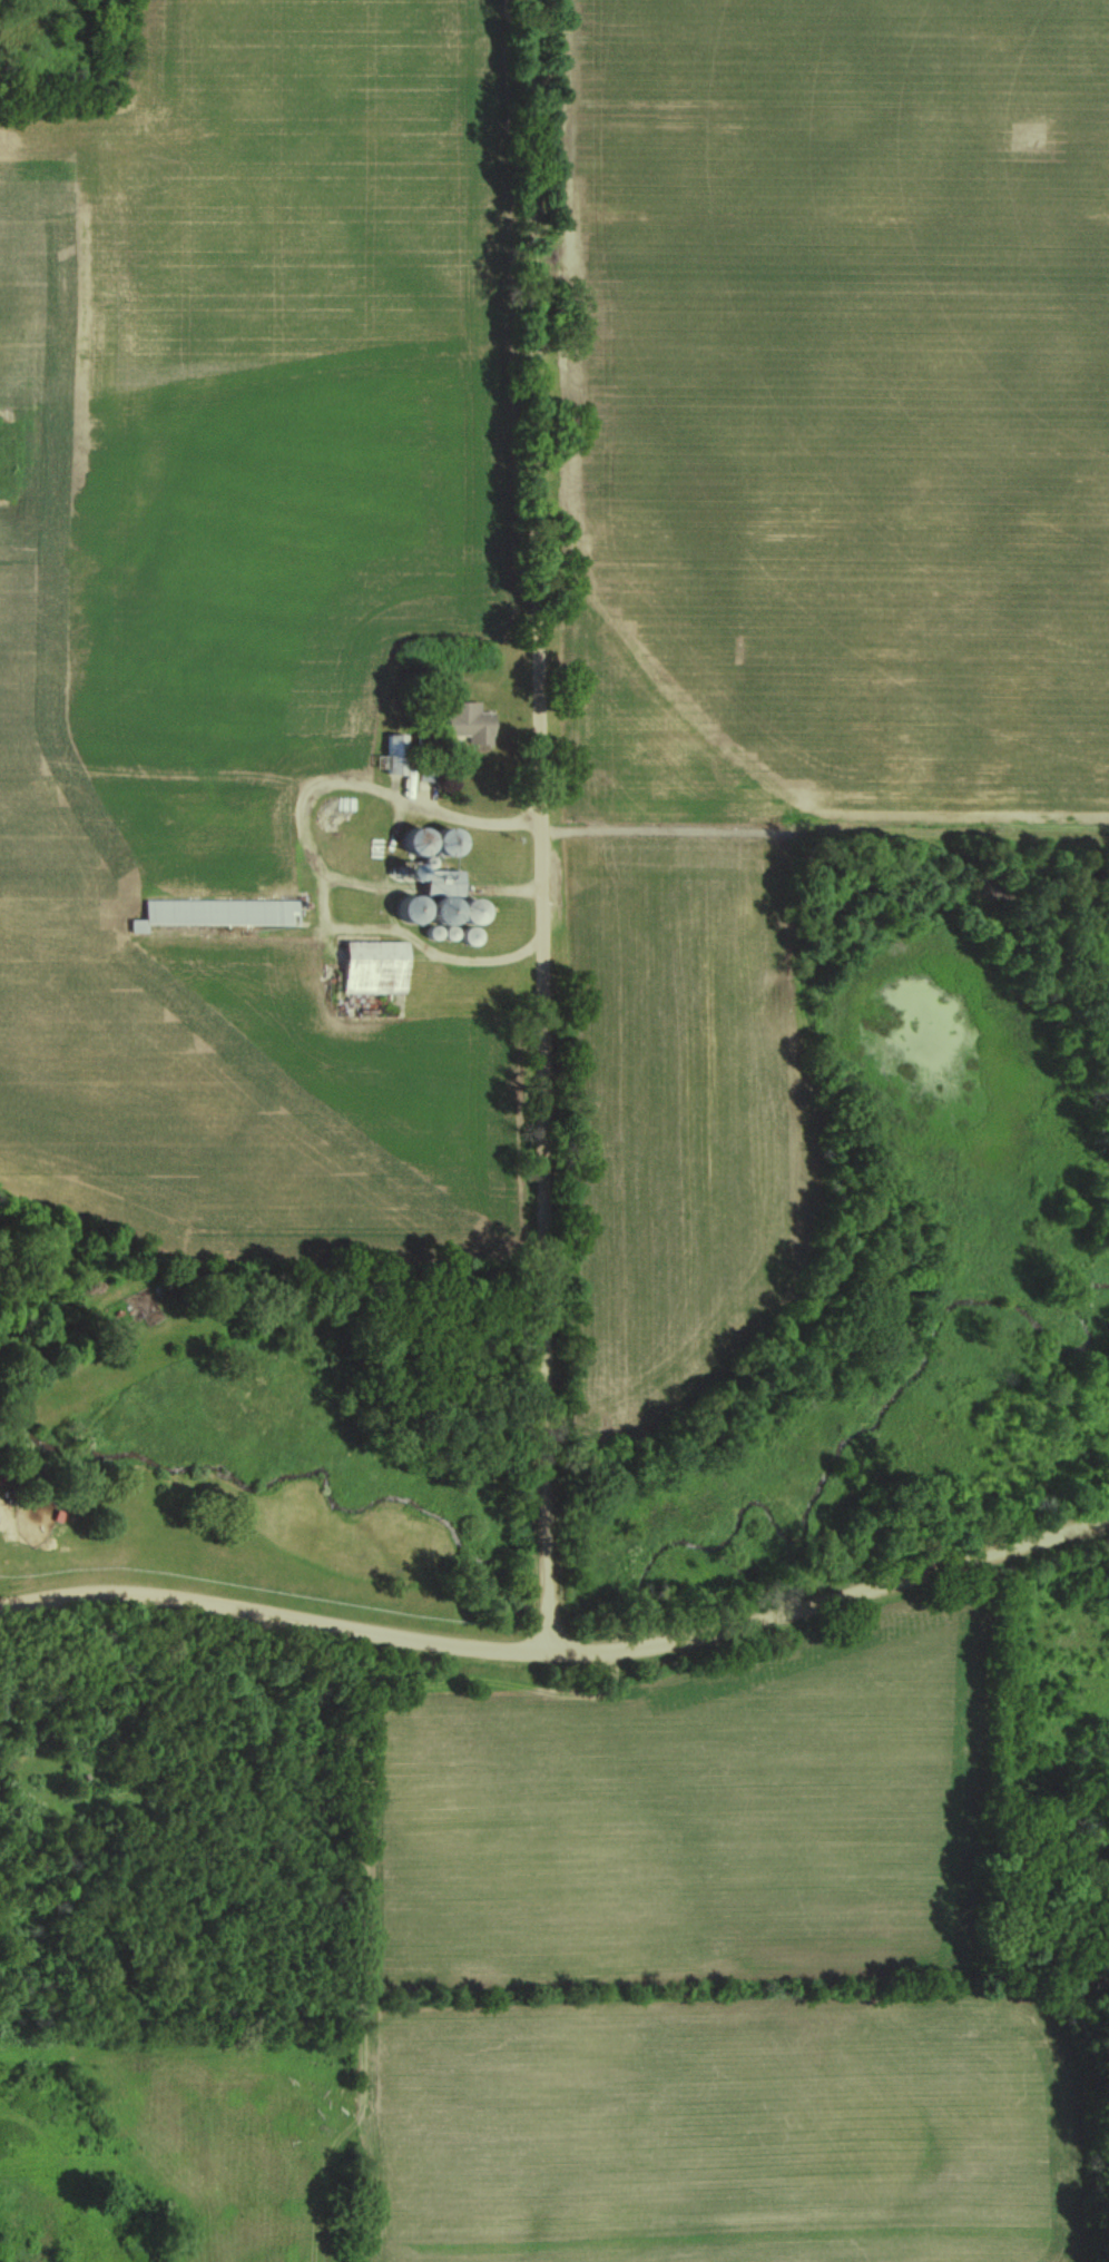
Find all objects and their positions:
building: (462, 724)
building: (391, 754)
road: (540, 825)
building: (436, 840)
road: (305, 856)
road: (380, 866)
road: (346, 883)
road: (507, 891)
building: (432, 893)
building: (461, 911)
building: (212, 913)
building: (371, 968)
road: (560, 1652)

